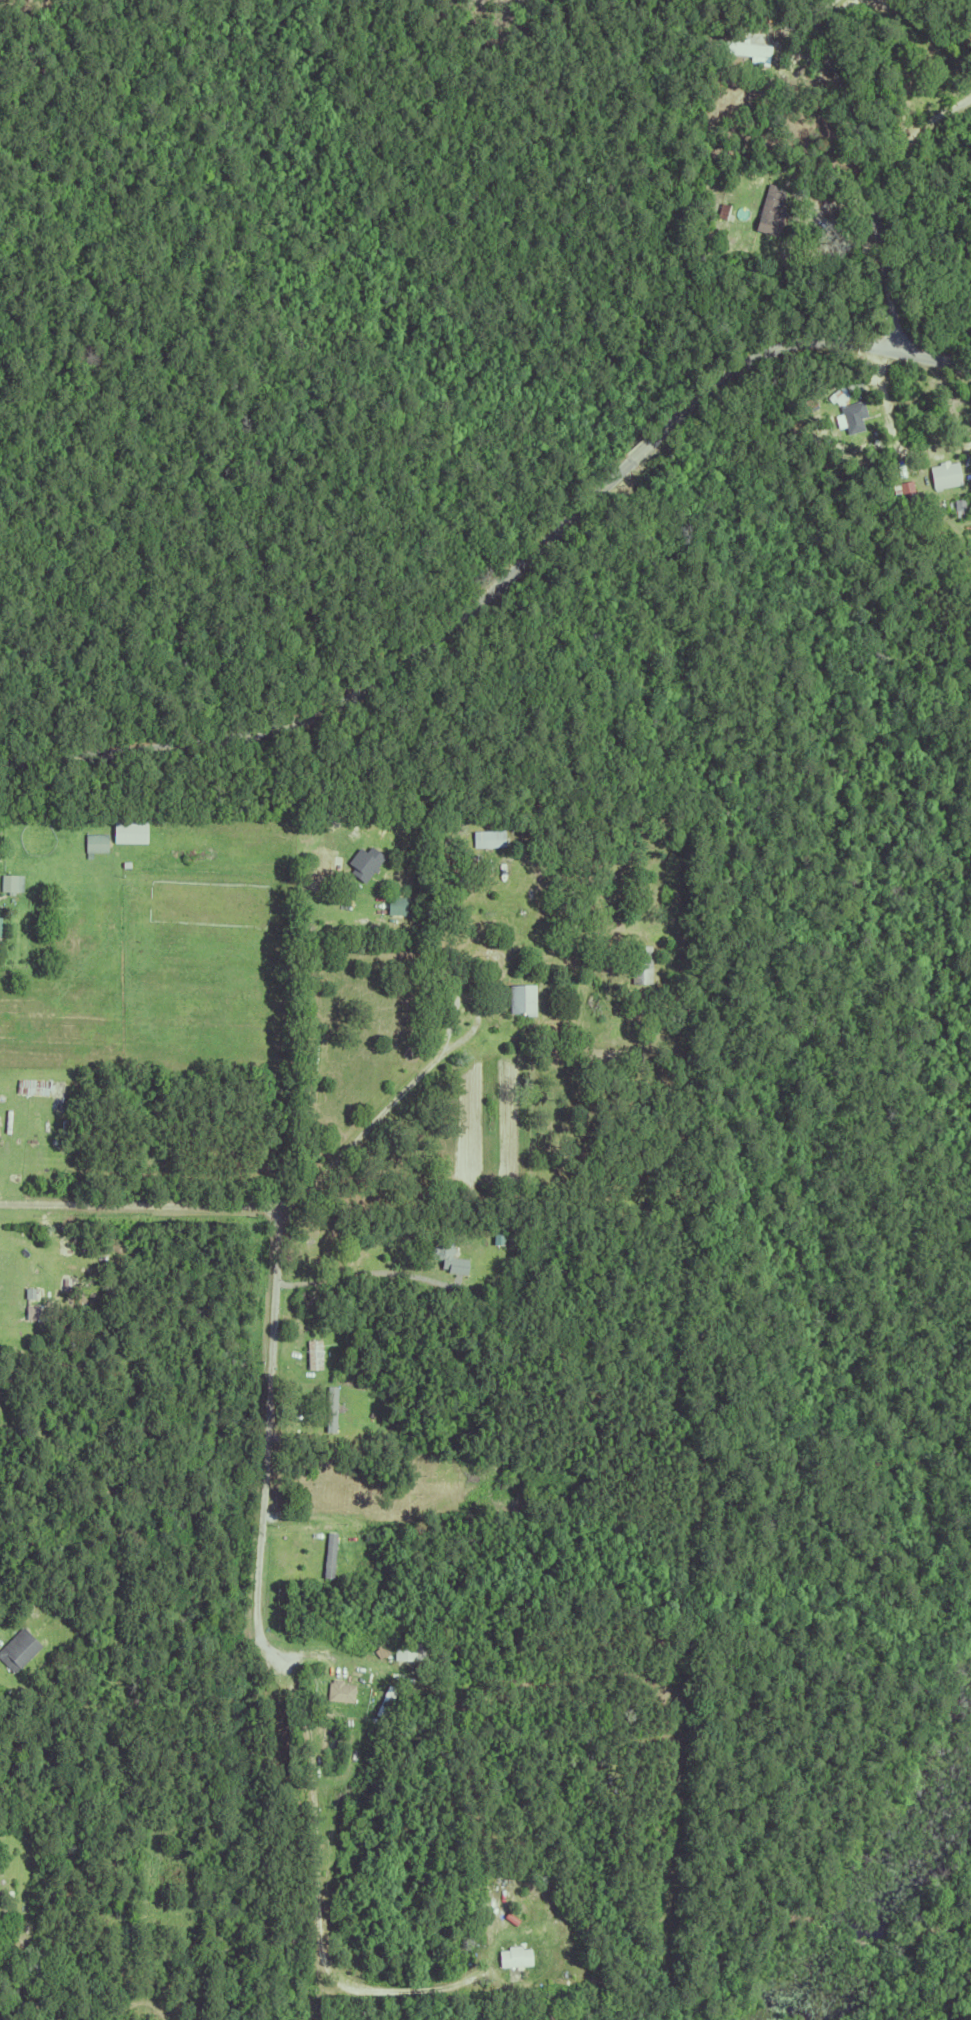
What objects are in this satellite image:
building: (745, 46)
building: (911, 71)
road: (868, 171)
building: (721, 208)
building: (768, 209)
building: (840, 391)
building: (851, 417)
building: (943, 473)
building: (905, 491)
building: (954, 505)
road: (507, 582)
road: (319, 778)
building: (128, 830)
building: (486, 837)
building: (95, 842)
building: (323, 863)
building: (10, 882)
building: (448, 896)
building: (393, 903)
building: (0, 928)
building: (639, 964)
building: (520, 999)
road: (416, 1079)
building: (31, 1085)
building: (6, 1123)
road: (139, 1206)
building: (444, 1255)
building: (29, 1292)
building: (304, 1301)
building: (312, 1354)
building: (330, 1409)
road: (269, 1414)
building: (331, 1480)
building: (347, 1560)
building: (444, 1642)
building: (21, 1650)
building: (381, 1650)
building: (407, 1652)
road: (284, 1653)
building: (332, 1692)
building: (489, 1695)
building: (384, 1701)
building: (484, 1717)
road: (322, 1879)
building: (512, 1953)

